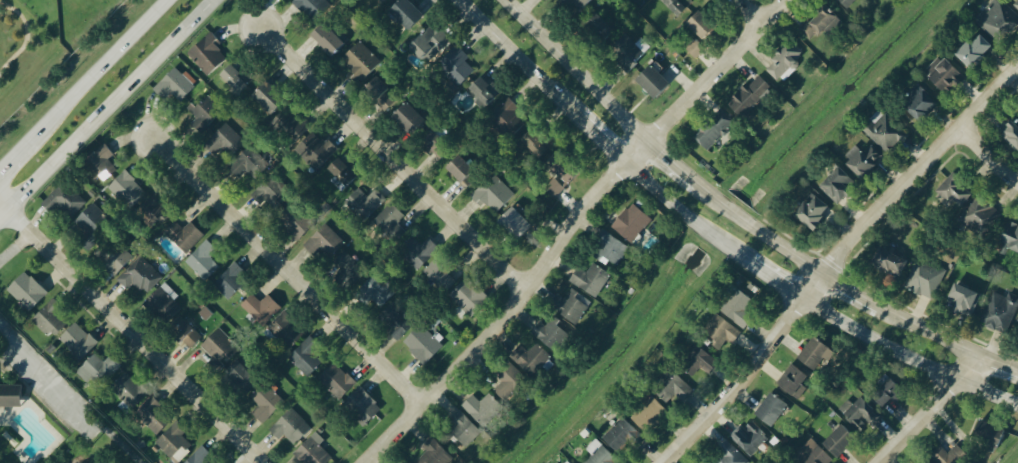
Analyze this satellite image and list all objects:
building: (848, 3)
building: (574, 4)
building: (1016, 4)
building: (677, 6)
building: (313, 7)
building: (407, 12)
road: (749, 13)
building: (998, 19)
building: (702, 23)
building: (597, 24)
building: (820, 24)
building: (328, 37)
building: (431, 42)
building: (696, 47)
building: (976, 48)
building: (629, 50)
building: (208, 51)
road: (518, 58)
building: (360, 60)
building: (785, 61)
building: (456, 67)
road: (576, 69)
road: (718, 69)
building: (945, 72)
building: (236, 76)
building: (653, 79)
road: (83, 84)
building: (175, 84)
building: (484, 90)
building: (380, 91)
building: (751, 94)
building: (268, 96)
building: (921, 101)
road: (105, 107)
building: (204, 112)
building: (410, 116)
building: (508, 117)
building: (294, 124)
building: (714, 129)
building: (884, 129)
building: (1012, 133)
building: (224, 140)
road: (600, 140)
building: (538, 141)
building: (435, 143)
building: (317, 148)
road: (635, 151)
building: (864, 158)
road: (988, 158)
building: (246, 160)
building: (103, 161)
road: (672, 161)
road: (389, 162)
building: (563, 165)
building: (345, 169)
building: (463, 169)
road: (918, 170)
building: (339, 183)
building: (839, 183)
building: (556, 187)
building: (128, 188)
building: (271, 189)
building: (956, 189)
building: (494, 193)
building: (65, 199)
building: (365, 202)
building: (156, 209)
building: (814, 210)
road: (684, 213)
building: (980, 213)
building: (92, 219)
building: (297, 220)
building: (517, 220)
building: (390, 221)
building: (632, 221)
road: (760, 230)
building: (184, 234)
building: (1009, 237)
building: (324, 241)
building: (610, 248)
building: (419, 251)
building: (117, 258)
building: (203, 259)
building: (886, 259)
building: (347, 267)
building: (440, 272)
road: (284, 274)
building: (141, 275)
building: (925, 277)
building: (591, 278)
building: (231, 279)
road: (776, 281)
road: (814, 288)
road: (852, 288)
building: (27, 290)
building: (469, 295)
building: (964, 298)
building: (164, 300)
building: (573, 305)
building: (262, 307)
building: (738, 307)
building: (1000, 310)
building: (50, 317)
road: (500, 319)
building: (397, 320)
building: (287, 329)
road: (932, 329)
building: (721, 330)
building: (185, 331)
road: (129, 333)
building: (551, 333)
building: (78, 340)
building: (423, 343)
building: (220, 345)
building: (815, 351)
building: (307, 355)
building: (532, 357)
road: (910, 357)
building: (700, 361)
road: (1001, 363)
building: (97, 368)
road: (34, 373)
building: (241, 376)
building: (794, 379)
building: (337, 380)
building: (508, 380)
building: (673, 386)
road: (739, 386)
building: (129, 388)
building: (889, 391)
building: (11, 394)
building: (265, 402)
building: (362, 405)
building: (482, 407)
building: (773, 408)
road: (933, 409)
building: (859, 411)
park: (49, 413)
building: (649, 413)
building: (154, 414)
building: (291, 426)
building: (464, 427)
building: (991, 432)
building: (621, 434)
building: (750, 437)
building: (841, 439)
building: (174, 442)
building: (314, 450)
building: (434, 452)
building: (812, 453)
building: (731, 454)
building: (950, 454)
building: (201, 456)
building: (603, 456)
building: (568, 462)

